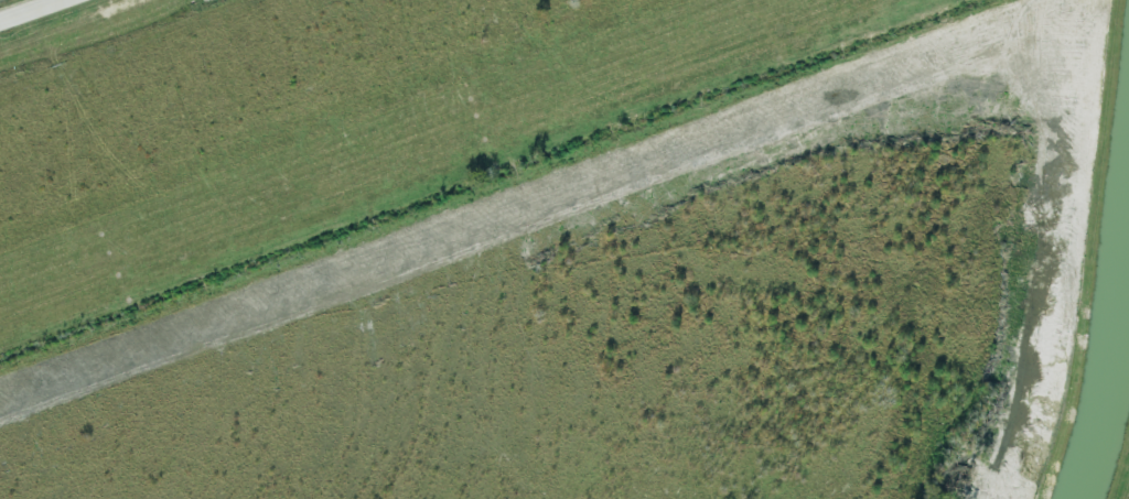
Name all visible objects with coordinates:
road: (28, 9)
river: (1100, 411)

